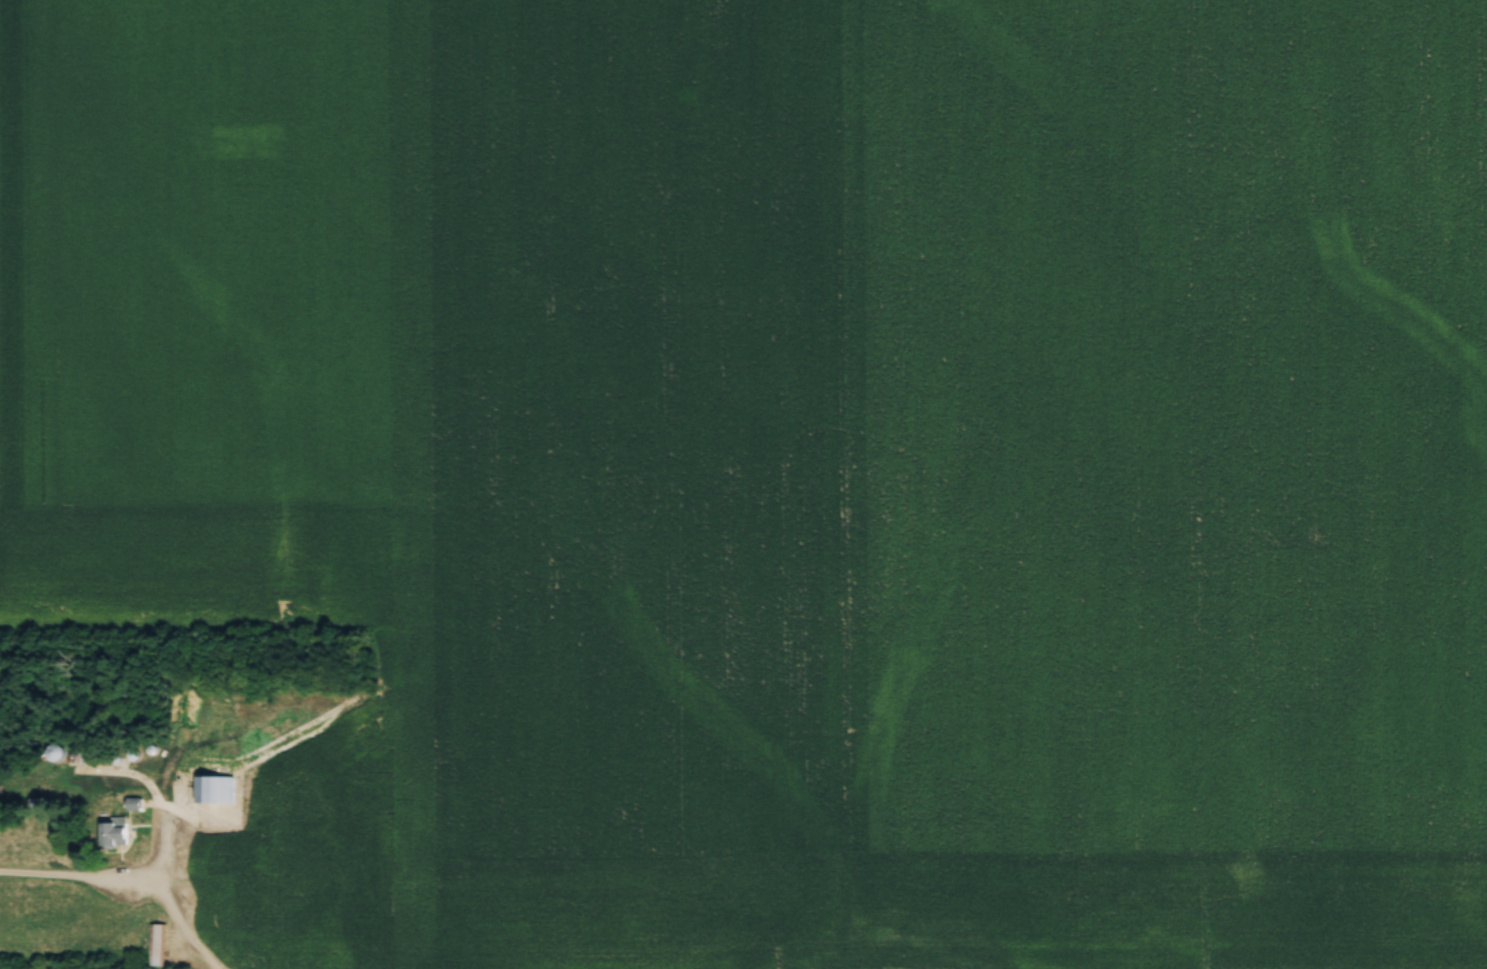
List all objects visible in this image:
building: (55, 749)
building: (216, 786)
building: (135, 801)
building: (115, 830)
road: (125, 879)
building: (157, 943)

